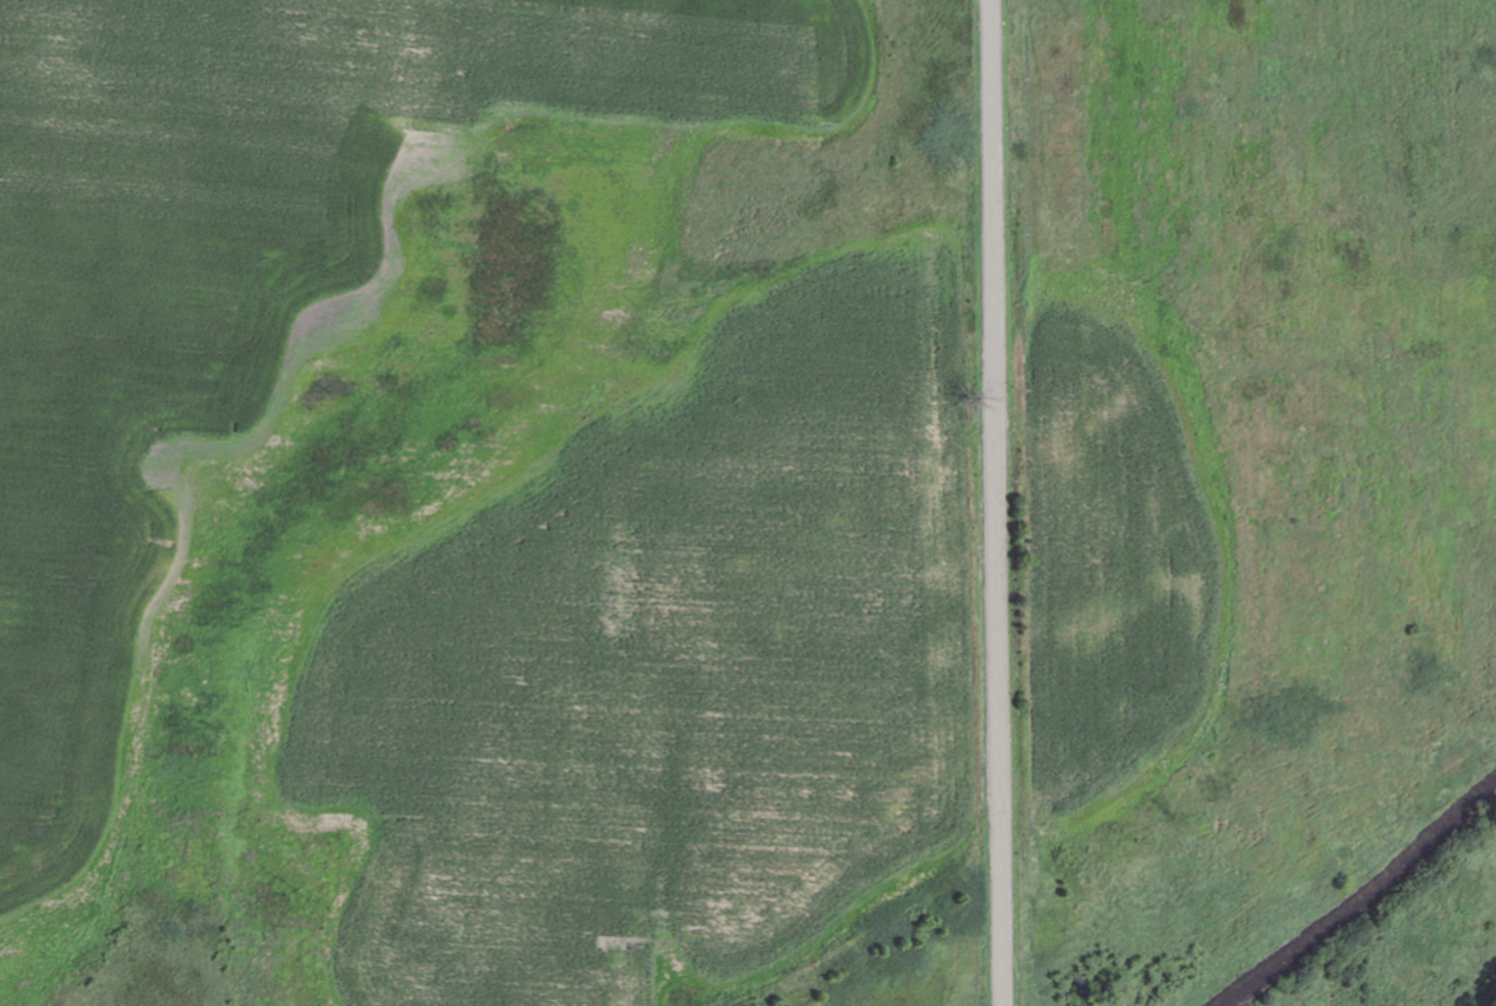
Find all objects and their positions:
road: (996, 503)

